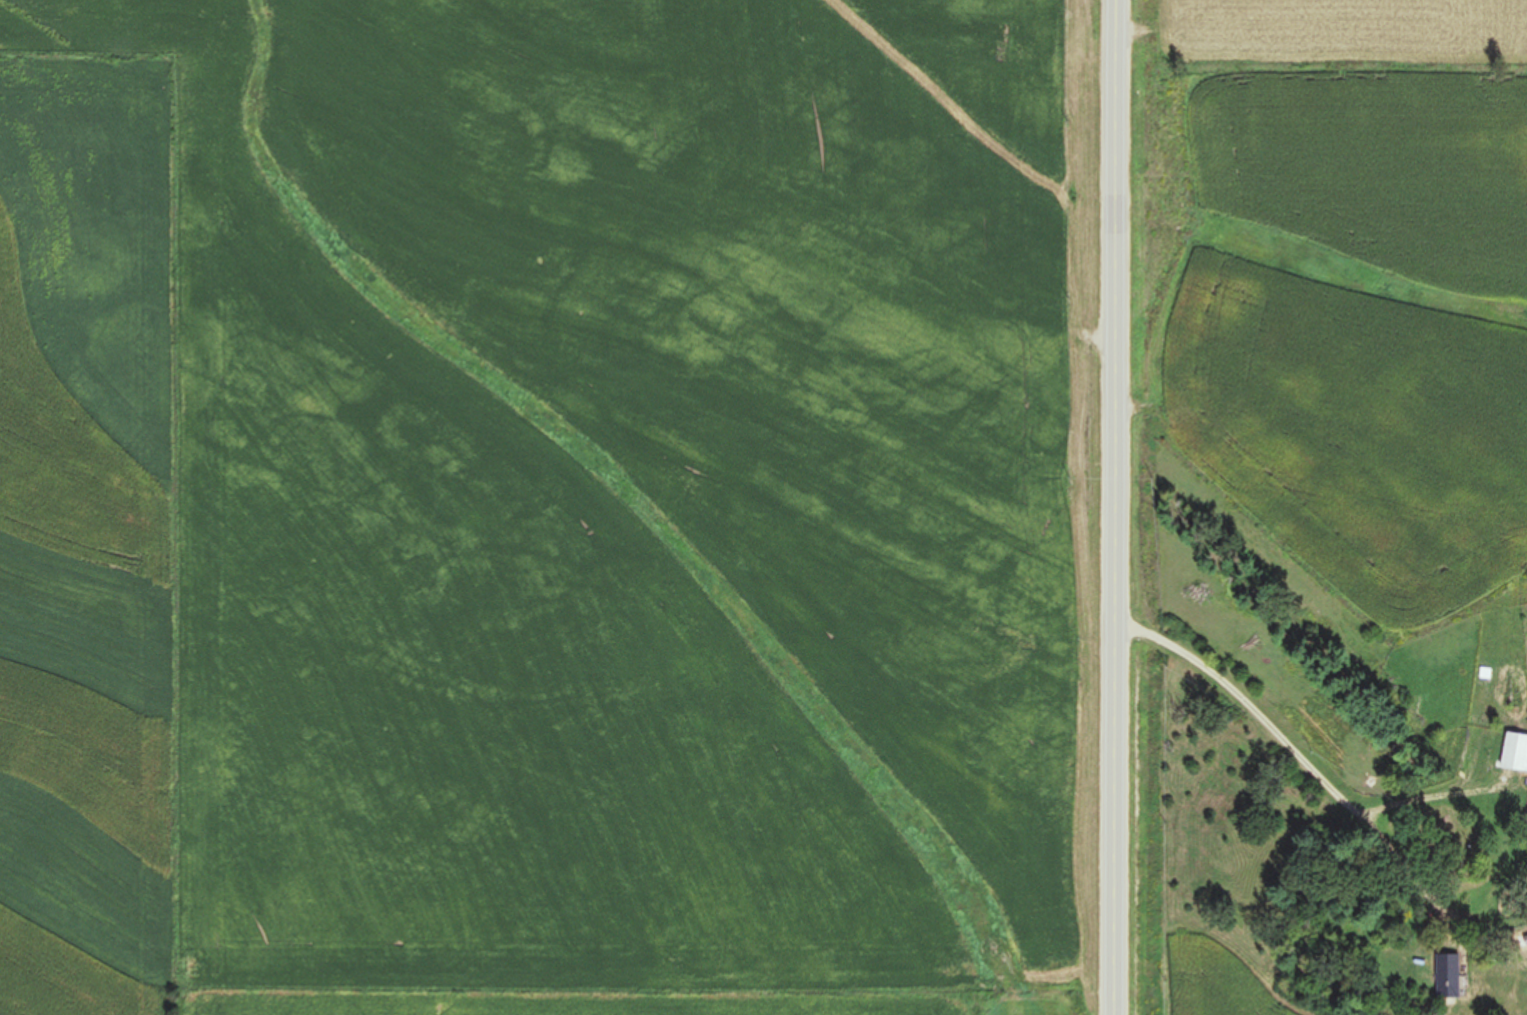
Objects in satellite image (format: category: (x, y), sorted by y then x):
road: (1117, 507)
building: (1514, 752)
road: (1303, 758)
building: (1444, 976)

